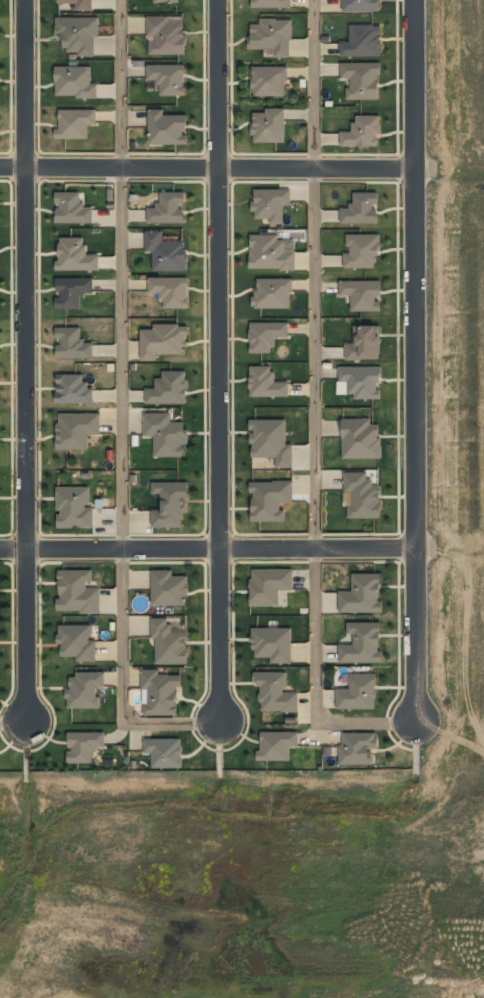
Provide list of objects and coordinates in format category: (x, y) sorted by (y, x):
building: (167, 1)
building: (71, 2)
building: (270, 4)
building: (361, 6)
building: (78, 35)
building: (166, 36)
building: (270, 38)
building: (362, 42)
building: (168, 79)
building: (363, 80)
building: (269, 82)
building: (75, 83)
building: (75, 124)
building: (269, 127)
building: (167, 129)
building: (363, 132)
road: (207, 165)
building: (270, 205)
building: (167, 209)
building: (361, 209)
building: (72, 210)
building: (362, 252)
building: (268, 253)
building: (78, 259)
building: (73, 292)
building: (171, 292)
building: (273, 294)
building: (362, 295)
building: (266, 336)
building: (163, 341)
building: (365, 344)
building: (73, 345)
road: (221, 359)
road: (27, 360)
road: (414, 361)
building: (360, 382)
building: (266, 384)
building: (169, 389)
building: (73, 390)
road: (314, 411)
road: (123, 412)
building: (77, 430)
building: (166, 435)
building: (360, 440)
building: (271, 442)
building: (362, 496)
building: (270, 500)
building: (170, 504)
building: (75, 508)
road: (207, 548)
building: (270, 586)
building: (169, 589)
building: (78, 593)
building: (362, 595)
building: (77, 643)
building: (169, 643)
building: (362, 644)
building: (273, 645)
building: (161, 693)
building: (357, 693)
building: (82, 694)
building: (276, 694)
road: (14, 721)
building: (276, 747)
building: (84, 748)
building: (358, 749)
building: (164, 753)

